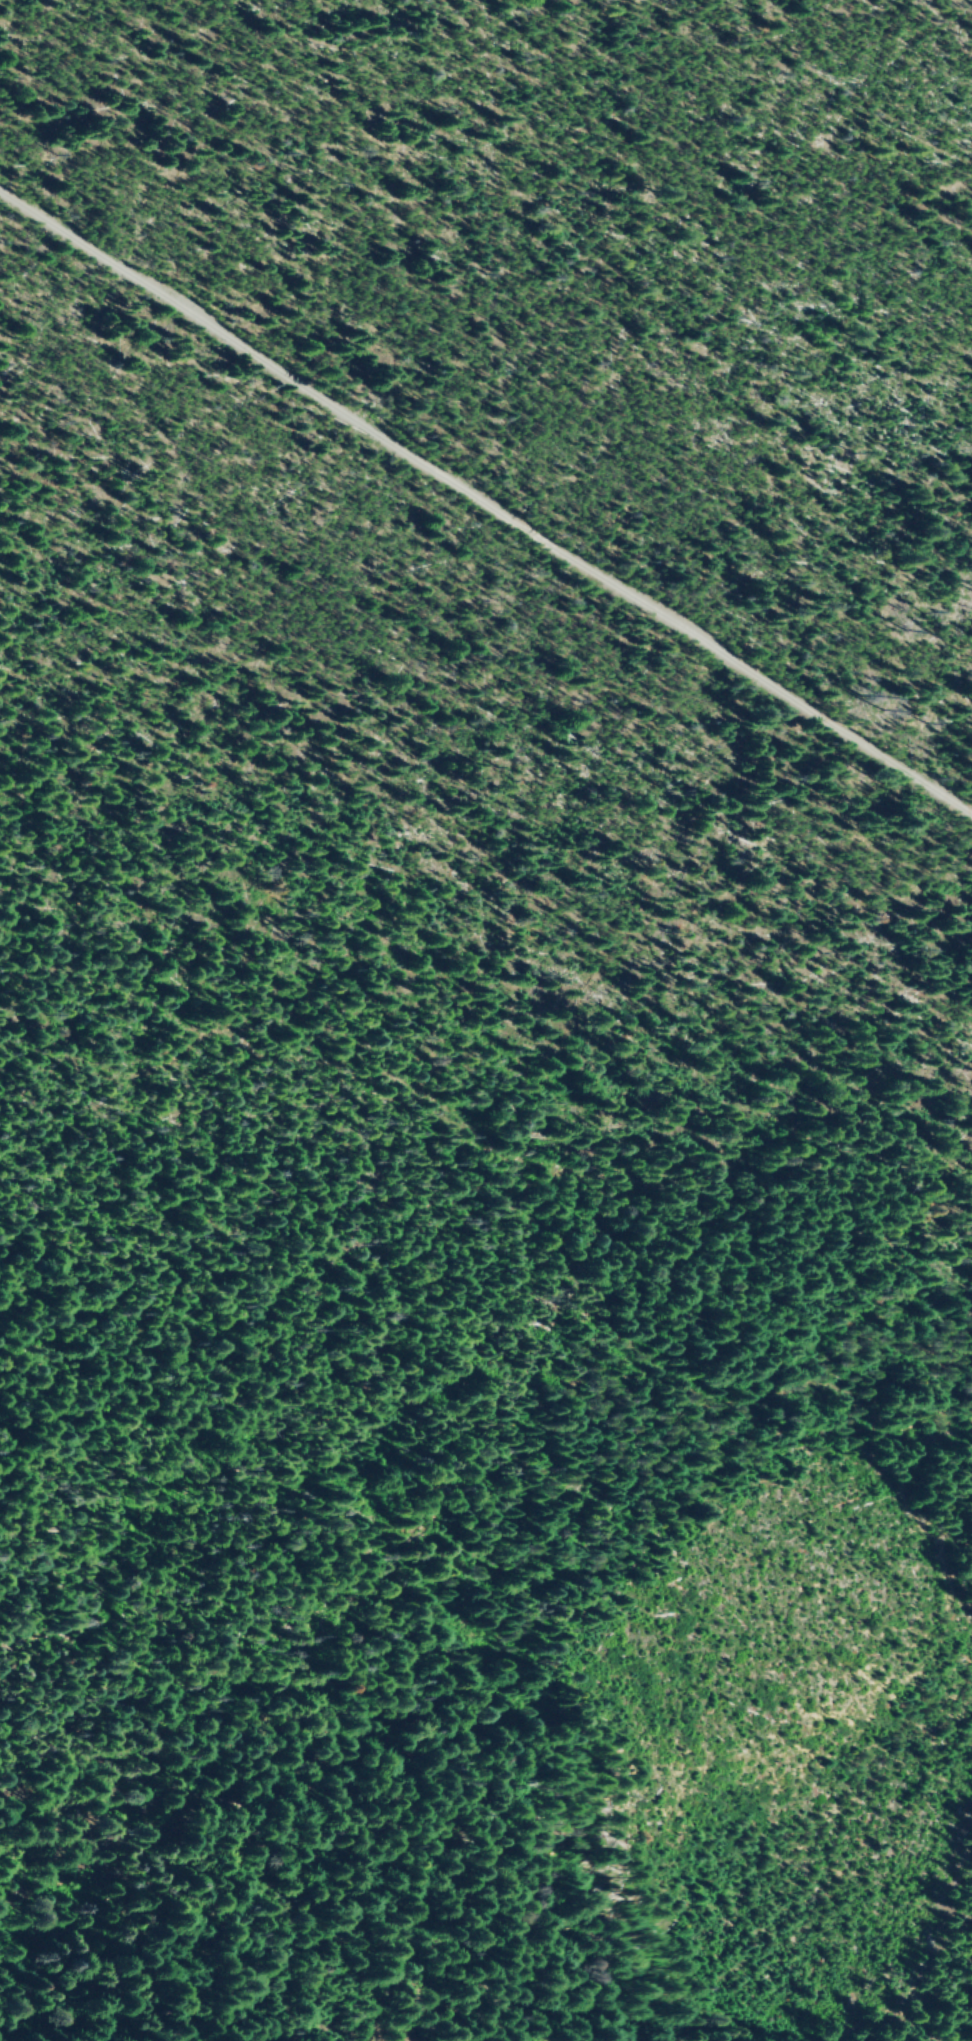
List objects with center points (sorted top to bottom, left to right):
road: (485, 500)

